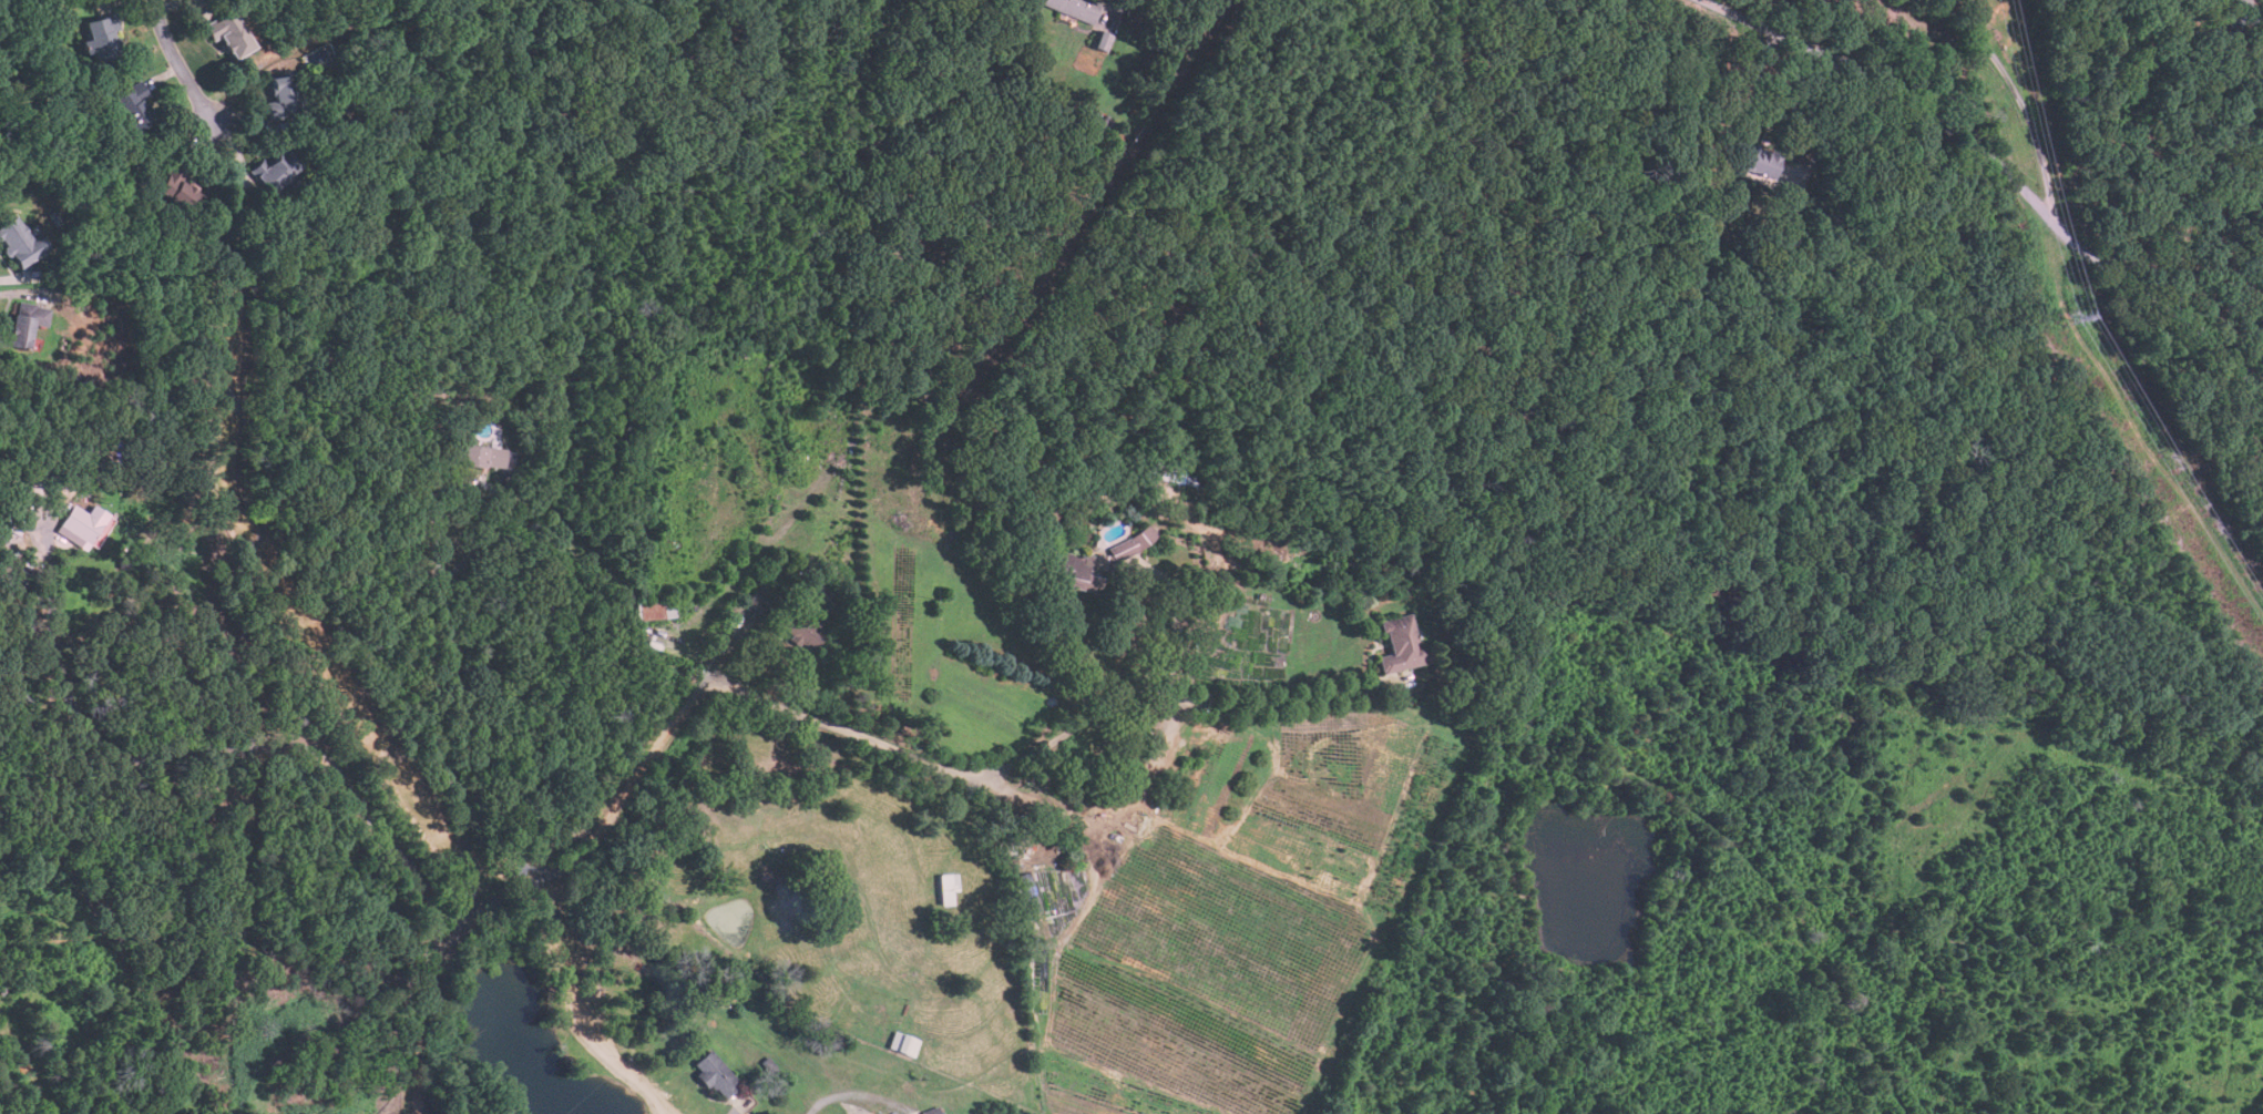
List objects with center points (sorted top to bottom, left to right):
building: (1075, 8)
road: (2257, 14)
building: (227, 33)
building: (98, 37)
building: (1103, 40)
road: (180, 63)
building: (280, 96)
road: (1773, 99)
road: (2021, 100)
building: (133, 105)
road: (1826, 125)
building: (1760, 161)
road: (2001, 166)
building: (277, 171)
building: (176, 190)
building: (18, 242)
power tower: (2067, 317)
building: (24, 323)
building: (483, 456)
building: (1176, 474)
building: (83, 522)
building: (1098, 562)
building: (656, 610)
building: (788, 620)
road: (426, 623)
building: (1402, 644)
road: (224, 746)
road: (1024, 755)
road: (521, 883)
building: (949, 887)
building: (904, 1043)
building: (716, 1074)

